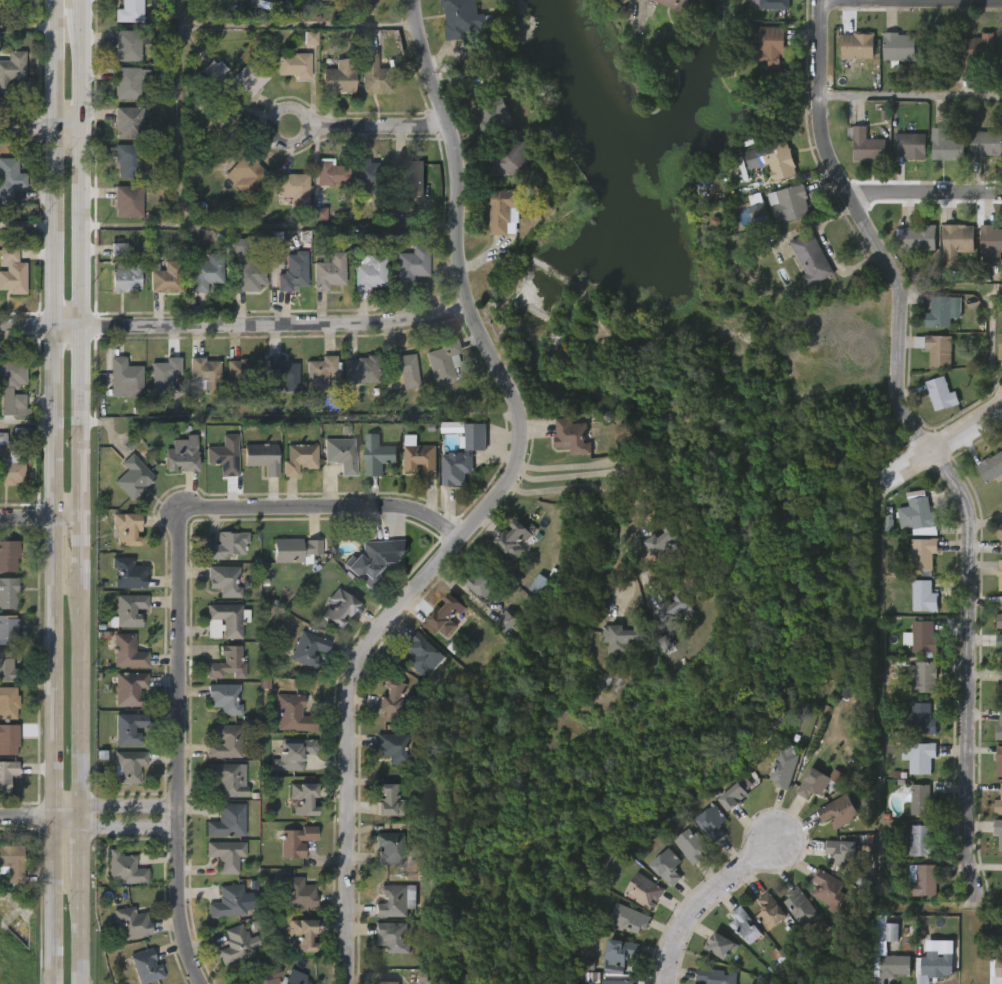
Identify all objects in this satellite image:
building: (283, 0)
building: (332, 0)
road: (88, 2)
building: (677, 4)
building: (773, 4)
building: (127, 11)
building: (464, 19)
road: (301, 24)
building: (311, 38)
building: (128, 43)
building: (857, 45)
building: (769, 46)
building: (899, 46)
building: (974, 52)
building: (293, 64)
building: (12, 69)
building: (211, 71)
building: (373, 74)
building: (337, 76)
building: (246, 78)
building: (127, 82)
road: (911, 96)
building: (488, 110)
road: (177, 113)
building: (126, 122)
road: (369, 125)
road: (44, 127)
building: (224, 127)
building: (865, 144)
building: (986, 144)
building: (911, 146)
building: (948, 146)
building: (506, 159)
building: (129, 160)
building: (770, 161)
building: (164, 165)
building: (244, 174)
building: (331, 174)
building: (370, 176)
building: (406, 177)
building: (9, 179)
road: (925, 187)
building: (292, 188)
building: (125, 201)
building: (789, 203)
building: (757, 208)
building: (501, 211)
building: (320, 214)
road: (26, 224)
road: (269, 225)
building: (919, 237)
building: (990, 239)
building: (956, 240)
building: (276, 242)
building: (118, 249)
road: (826, 250)
building: (810, 258)
road: (87, 260)
building: (411, 264)
dam: (550, 265)
building: (244, 267)
building: (290, 270)
building: (11, 272)
building: (204, 272)
building: (328, 272)
building: (368, 272)
building: (123, 277)
building: (164, 277)
building: (941, 312)
road: (232, 322)
building: (999, 347)
building: (935, 349)
building: (444, 361)
building: (401, 368)
building: (361, 370)
building: (241, 371)
building: (281, 373)
building: (320, 373)
building: (203, 375)
building: (160, 376)
building: (122, 379)
building: (11, 381)
building: (940, 394)
road: (26, 421)
building: (571, 437)
road: (941, 441)
road: (927, 443)
building: (179, 454)
building: (341, 454)
building: (376, 455)
building: (223, 456)
building: (462, 456)
building: (261, 457)
building: (418, 457)
building: (299, 459)
building: (11, 461)
road: (598, 462)
building: (991, 467)
road: (617, 474)
building: (132, 477)
road: (52, 492)
road: (602, 496)
road: (485, 501)
building: (916, 515)
road: (44, 517)
building: (123, 528)
building: (1000, 530)
building: (511, 541)
building: (664, 544)
road: (88, 545)
building: (226, 545)
building: (293, 550)
building: (922, 555)
building: (7, 556)
building: (367, 564)
building: (127, 574)
building: (999, 575)
building: (222, 581)
building: (481, 581)
building: (539, 585)
building: (7, 593)
building: (923, 597)
building: (337, 608)
building: (126, 611)
building: (671, 611)
road: (184, 616)
building: (442, 617)
building: (226, 619)
building: (999, 621)
building: (505, 622)
building: (7, 630)
building: (923, 637)
building: (621, 638)
building: (664, 643)
building: (999, 644)
building: (307, 649)
building: (128, 652)
building: (417, 653)
building: (228, 662)
building: (6, 670)
building: (921, 678)
building: (127, 689)
road: (87, 693)
building: (999, 693)
building: (224, 698)
building: (392, 698)
building: (7, 703)
building: (291, 712)
building: (919, 719)
building: (130, 729)
building: (999, 729)
building: (8, 739)
building: (224, 741)
building: (391, 747)
building: (291, 753)
building: (919, 756)
building: (999, 760)
building: (783, 766)
building: (127, 767)
building: (6, 773)
building: (224, 778)
building: (813, 782)
building: (735, 797)
building: (304, 798)
building: (387, 799)
building: (921, 800)
building: (998, 802)
road: (132, 810)
building: (837, 811)
road: (43, 812)
building: (225, 820)
building: (713, 824)
building: (998, 830)
building: (294, 840)
building: (920, 840)
road: (86, 845)
building: (694, 846)
building: (388, 847)
building: (841, 851)
building: (225, 854)
building: (11, 862)
building: (668, 867)
building: (123, 868)
building: (922, 879)
building: (827, 888)
building: (647, 891)
building: (296, 892)
road: (705, 899)
building: (395, 900)
building: (226, 901)
building: (800, 906)
building: (768, 911)
building: (627, 918)
building: (130, 922)
building: (745, 926)
road: (86, 931)
building: (300, 933)
building: (390, 936)
road: (972, 941)
building: (235, 943)
building: (722, 946)
building: (619, 954)
building: (893, 965)
building: (143, 966)
building: (934, 968)
building: (998, 970)
building: (259, 975)
building: (715, 976)
building: (287, 981)
building: (303, 981)
building: (618, 982)
building: (388, 983)

